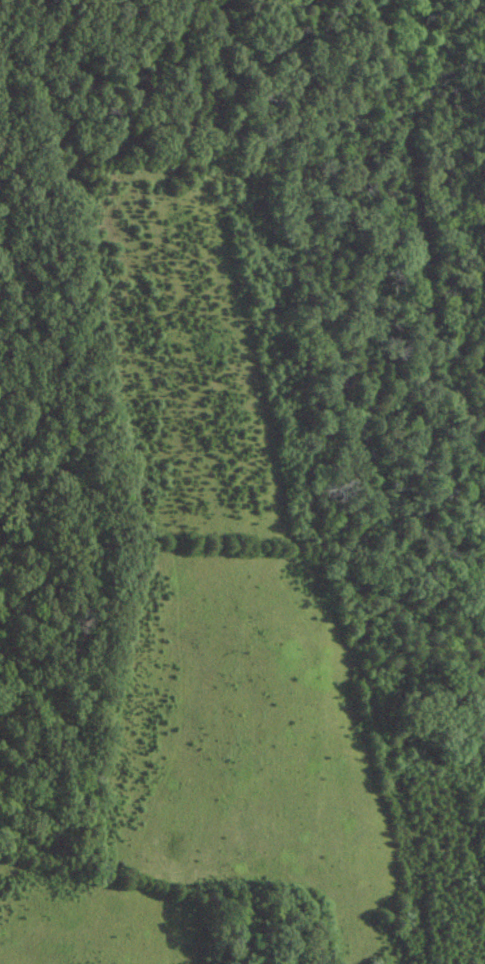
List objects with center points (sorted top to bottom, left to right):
building: (194, 734)
building: (286, 759)

